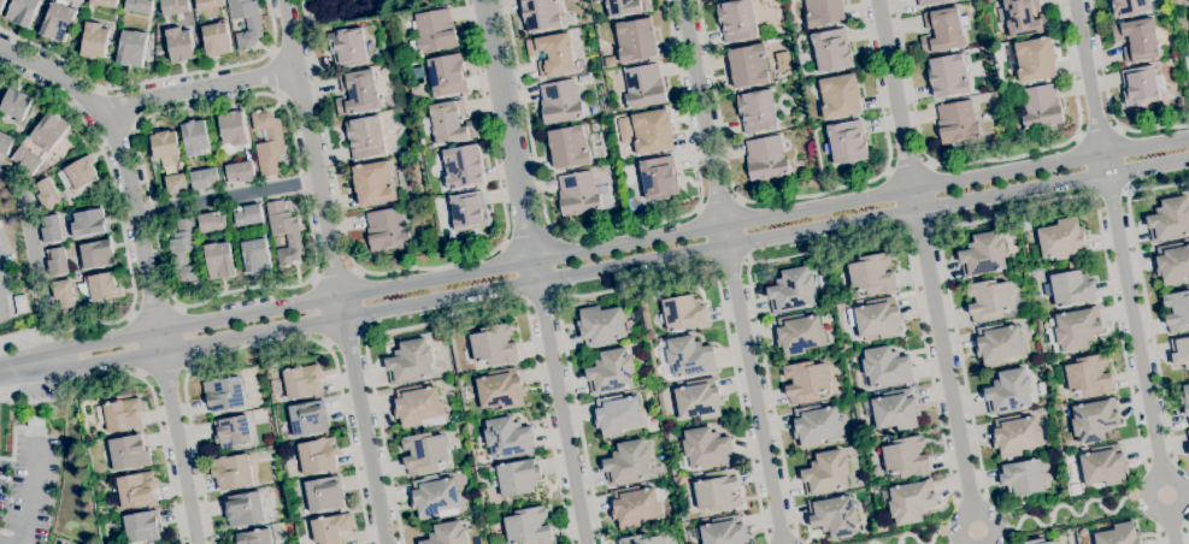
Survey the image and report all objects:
building: (1188, 1)
building: (104, 2)
building: (931, 2)
building: (1, 4)
building: (208, 4)
building: (139, 6)
building: (626, 6)
building: (173, 7)
building: (1129, 7)
building: (23, 11)
park: (365, 11)
building: (823, 12)
building: (1188, 12)
building: (543, 14)
building: (1023, 18)
building: (736, 20)
building: (57, 22)
building: (246, 23)
road: (273, 26)
building: (434, 30)
building: (943, 30)
building: (216, 40)
building: (635, 40)
building: (1136, 40)
building: (94, 41)
building: (179, 45)
building: (348, 47)
building: (131, 48)
building: (831, 51)
building: (552, 54)
building: (783, 60)
building: (1032, 60)
building: (610, 61)
building: (748, 66)
road: (1071, 66)
road: (275, 73)
building: (948, 75)
building: (447, 76)
road: (128, 83)
building: (1141, 85)
road: (201, 87)
building: (643, 87)
building: (416, 91)
building: (357, 94)
road: (276, 95)
building: (838, 96)
road: (1107, 99)
building: (560, 102)
building: (16, 105)
building: (1041, 107)
building: (757, 111)
building: (958, 122)
building: (448, 123)
building: (232, 129)
building: (49, 131)
building: (652, 131)
road: (1097, 131)
building: (195, 137)
building: (365, 137)
road: (511, 140)
building: (267, 142)
building: (846, 142)
building: (5, 143)
building: (165, 144)
building: (567, 147)
road: (313, 149)
road: (926, 155)
building: (765, 158)
building: (27, 159)
building: (169, 161)
building: (463, 166)
road: (907, 167)
building: (240, 172)
building: (77, 175)
building: (659, 177)
building: (205, 178)
building: (176, 184)
building: (373, 184)
road: (1108, 191)
building: (46, 194)
building: (582, 194)
road: (799, 196)
road: (228, 199)
building: (634, 203)
road: (717, 205)
road: (1014, 211)
building: (469, 212)
road: (118, 213)
building: (248, 215)
building: (1170, 219)
building: (89, 223)
building: (212, 223)
building: (1025, 226)
building: (51, 229)
building: (387, 230)
road: (612, 230)
road: (920, 230)
building: (284, 232)
road: (528, 237)
building: (1061, 240)
road: (824, 246)
road: (618, 247)
building: (184, 250)
building: (96, 254)
building: (983, 254)
building: (255, 255)
road: (37, 259)
building: (219, 260)
building: (57, 261)
road: (729, 264)
building: (1172, 264)
road: (147, 265)
road: (620, 265)
road: (417, 270)
road: (732, 271)
road: (928, 271)
road: (1123, 272)
road: (335, 273)
building: (872, 274)
parking lot: (4, 277)
road: (647, 277)
building: (101, 286)
building: (1071, 286)
building: (791, 290)
building: (63, 294)
road: (1143, 295)
road: (0, 296)
building: (989, 300)
building: (20, 304)
building: (84, 308)
road: (153, 309)
road: (459, 312)
building: (1177, 312)
building: (683, 313)
building: (876, 319)
building: (602, 326)
building: (1077, 329)
building: (799, 333)
road: (346, 339)
road: (18, 341)
road: (267, 342)
building: (999, 343)
building: (494, 345)
building: (1179, 351)
building: (853, 355)
building: (689, 356)
building: (410, 362)
road: (27, 367)
building: (887, 367)
building: (611, 372)
building: (1088, 377)
building: (840, 379)
building: (302, 380)
building: (806, 382)
building: (500, 389)
building: (1008, 392)
building: (225, 394)
building: (699, 400)
building: (1185, 400)
road: (34, 402)
building: (418, 407)
building: (895, 410)
road: (561, 412)
building: (617, 414)
building: (123, 415)
road: (157, 415)
building: (308, 419)
building: (1094, 420)
building: (36, 421)
road: (363, 421)
building: (816, 425)
building: (232, 431)
building: (1016, 434)
building: (1188, 434)
building: (505, 439)
building: (1188, 447)
building: (706, 449)
building: (128, 453)
building: (424, 453)
building: (318, 455)
building: (906, 457)
road: (1172, 461)
building: (628, 463)
building: (1101, 466)
road: (1159, 466)
road: (1146, 467)
building: (232, 472)
building: (825, 473)
building: (518, 477)
building: (1022, 478)
building: (137, 490)
building: (717, 490)
building: (1075, 491)
parking lot: (23, 492)
building: (324, 495)
road: (31, 496)
building: (434, 496)
building: (910, 502)
building: (636, 505)
road: (1059, 508)
building: (243, 509)
building: (834, 515)
building: (684, 519)
road: (1171, 525)
road: (1185, 525)
building: (142, 526)
building: (881, 526)
building: (528, 527)
building: (331, 528)
road: (1159, 530)
road: (1188, 530)
building: (724, 531)
building: (447, 534)
building: (1119, 534)
building: (252, 537)
road: (781, 537)
road: (908, 537)
road: (1158, 538)
building: (642, 539)
building: (1038, 542)

